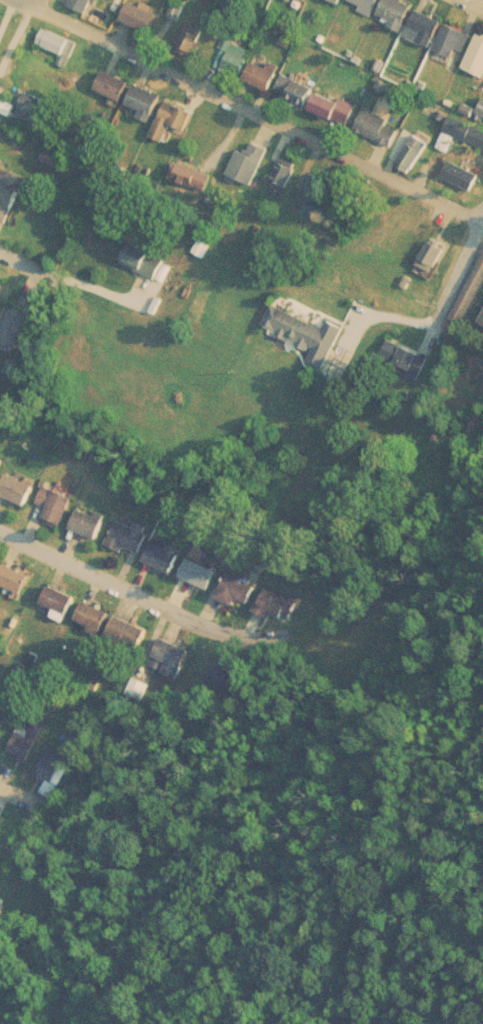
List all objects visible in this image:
building: (83, 4)
building: (387, 4)
building: (179, 9)
building: (417, 12)
building: (141, 15)
road: (10, 26)
building: (442, 27)
building: (471, 42)
building: (59, 43)
building: (192, 43)
building: (236, 57)
building: (266, 73)
building: (115, 84)
building: (297, 89)
building: (147, 98)
building: (33, 103)
road: (260, 103)
building: (336, 108)
building: (174, 119)
building: (379, 125)
building: (1, 132)
building: (415, 154)
building: (251, 163)
building: (315, 189)
building: (10, 192)
road: (457, 249)
building: (437, 255)
building: (146, 261)
road: (36, 274)
building: (471, 296)
building: (16, 330)
building: (308, 333)
building: (406, 359)
building: (2, 463)
building: (19, 489)
building: (57, 505)
building: (91, 522)
building: (131, 536)
building: (167, 555)
building: (201, 573)
building: (14, 579)
road: (108, 585)
building: (238, 589)
building: (61, 599)
building: (279, 604)
building: (96, 616)
building: (130, 634)
building: (172, 657)
building: (229, 679)
building: (3, 717)
building: (29, 740)
building: (57, 766)
road: (24, 793)
building: (2, 812)
building: (12, 838)
building: (3, 907)

